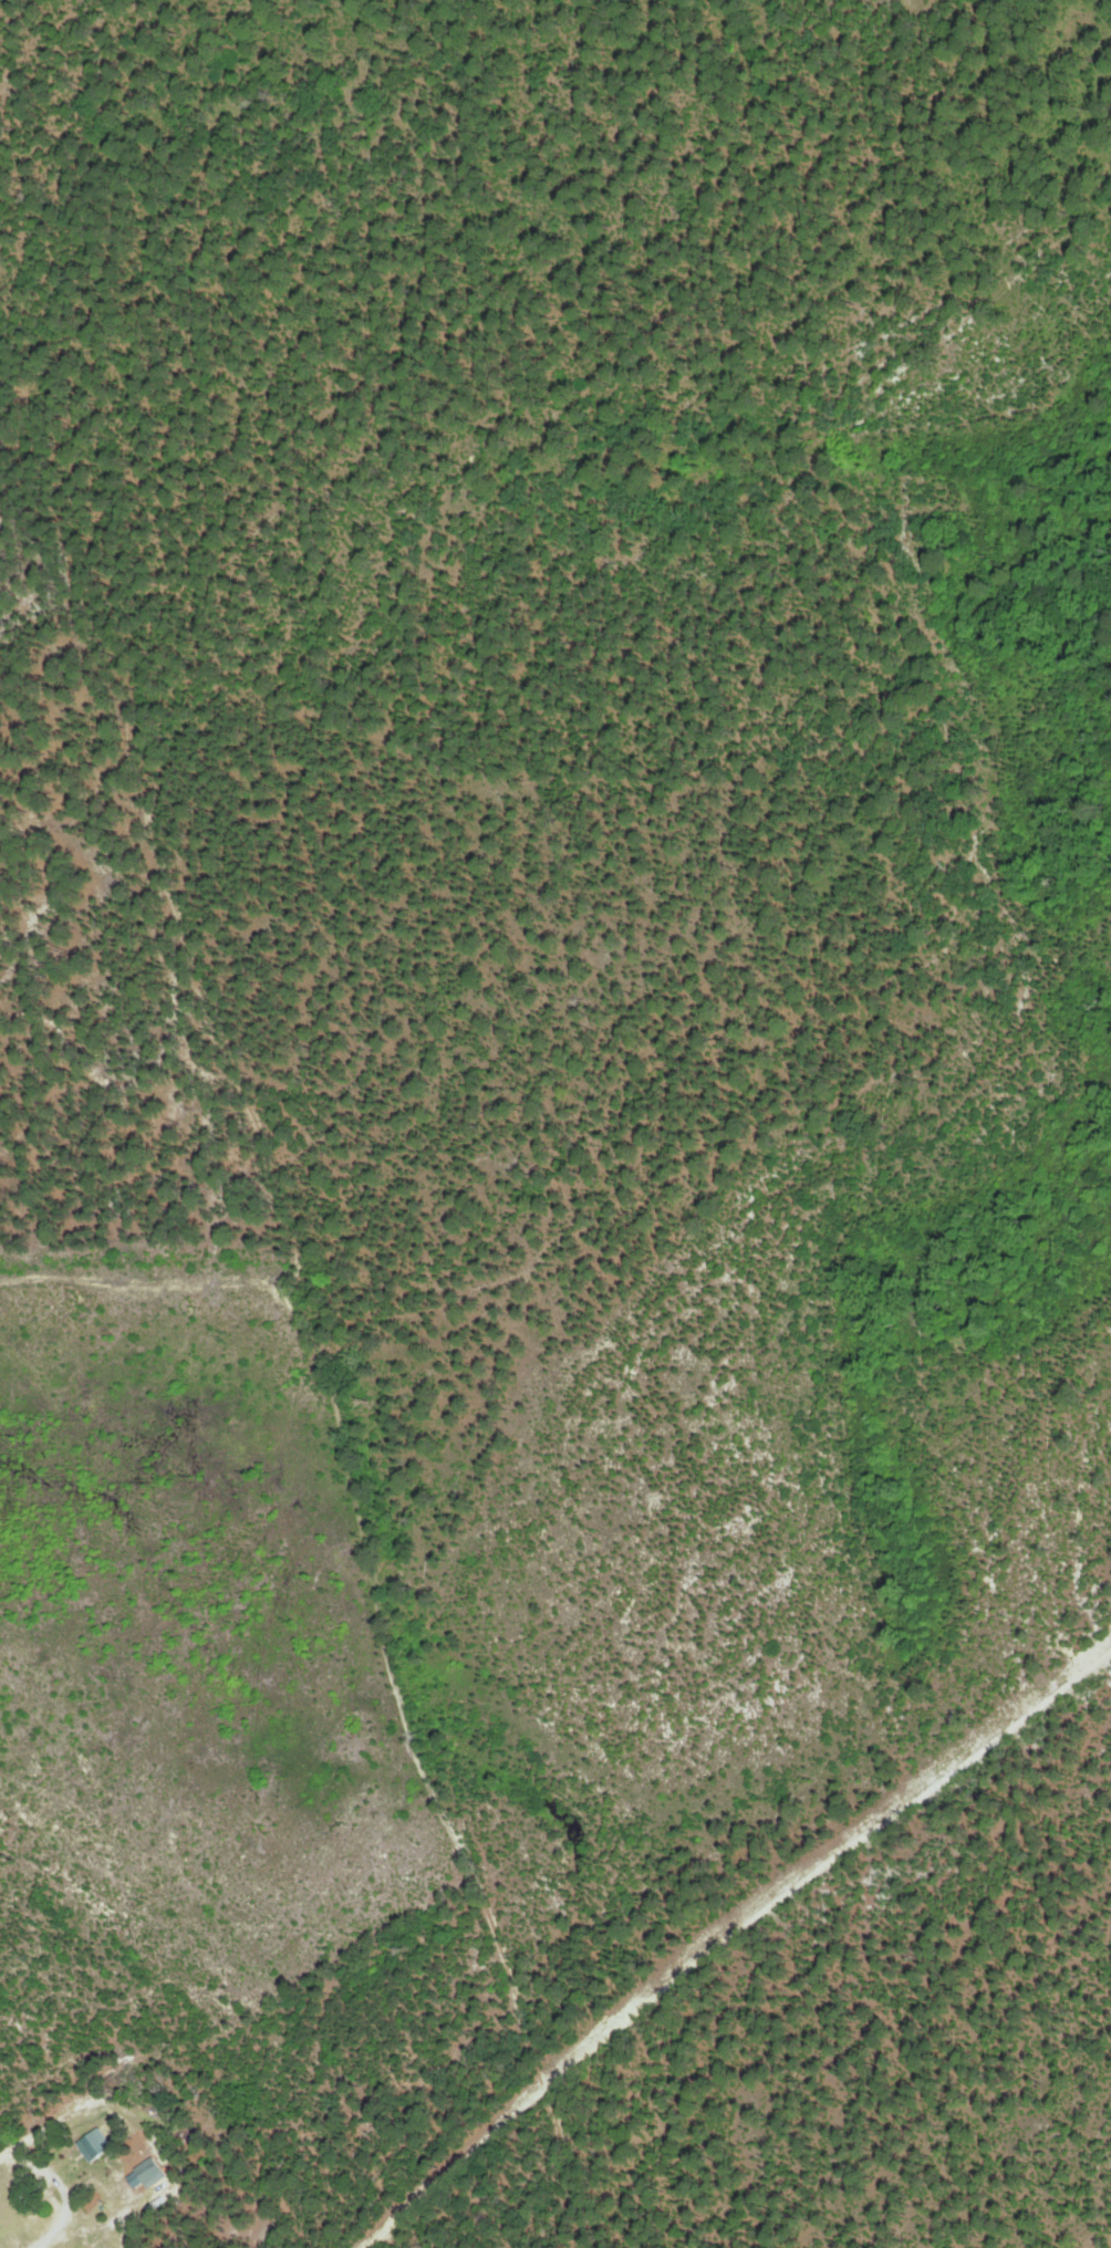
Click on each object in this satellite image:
building: (96, 2144)
building: (148, 2173)

